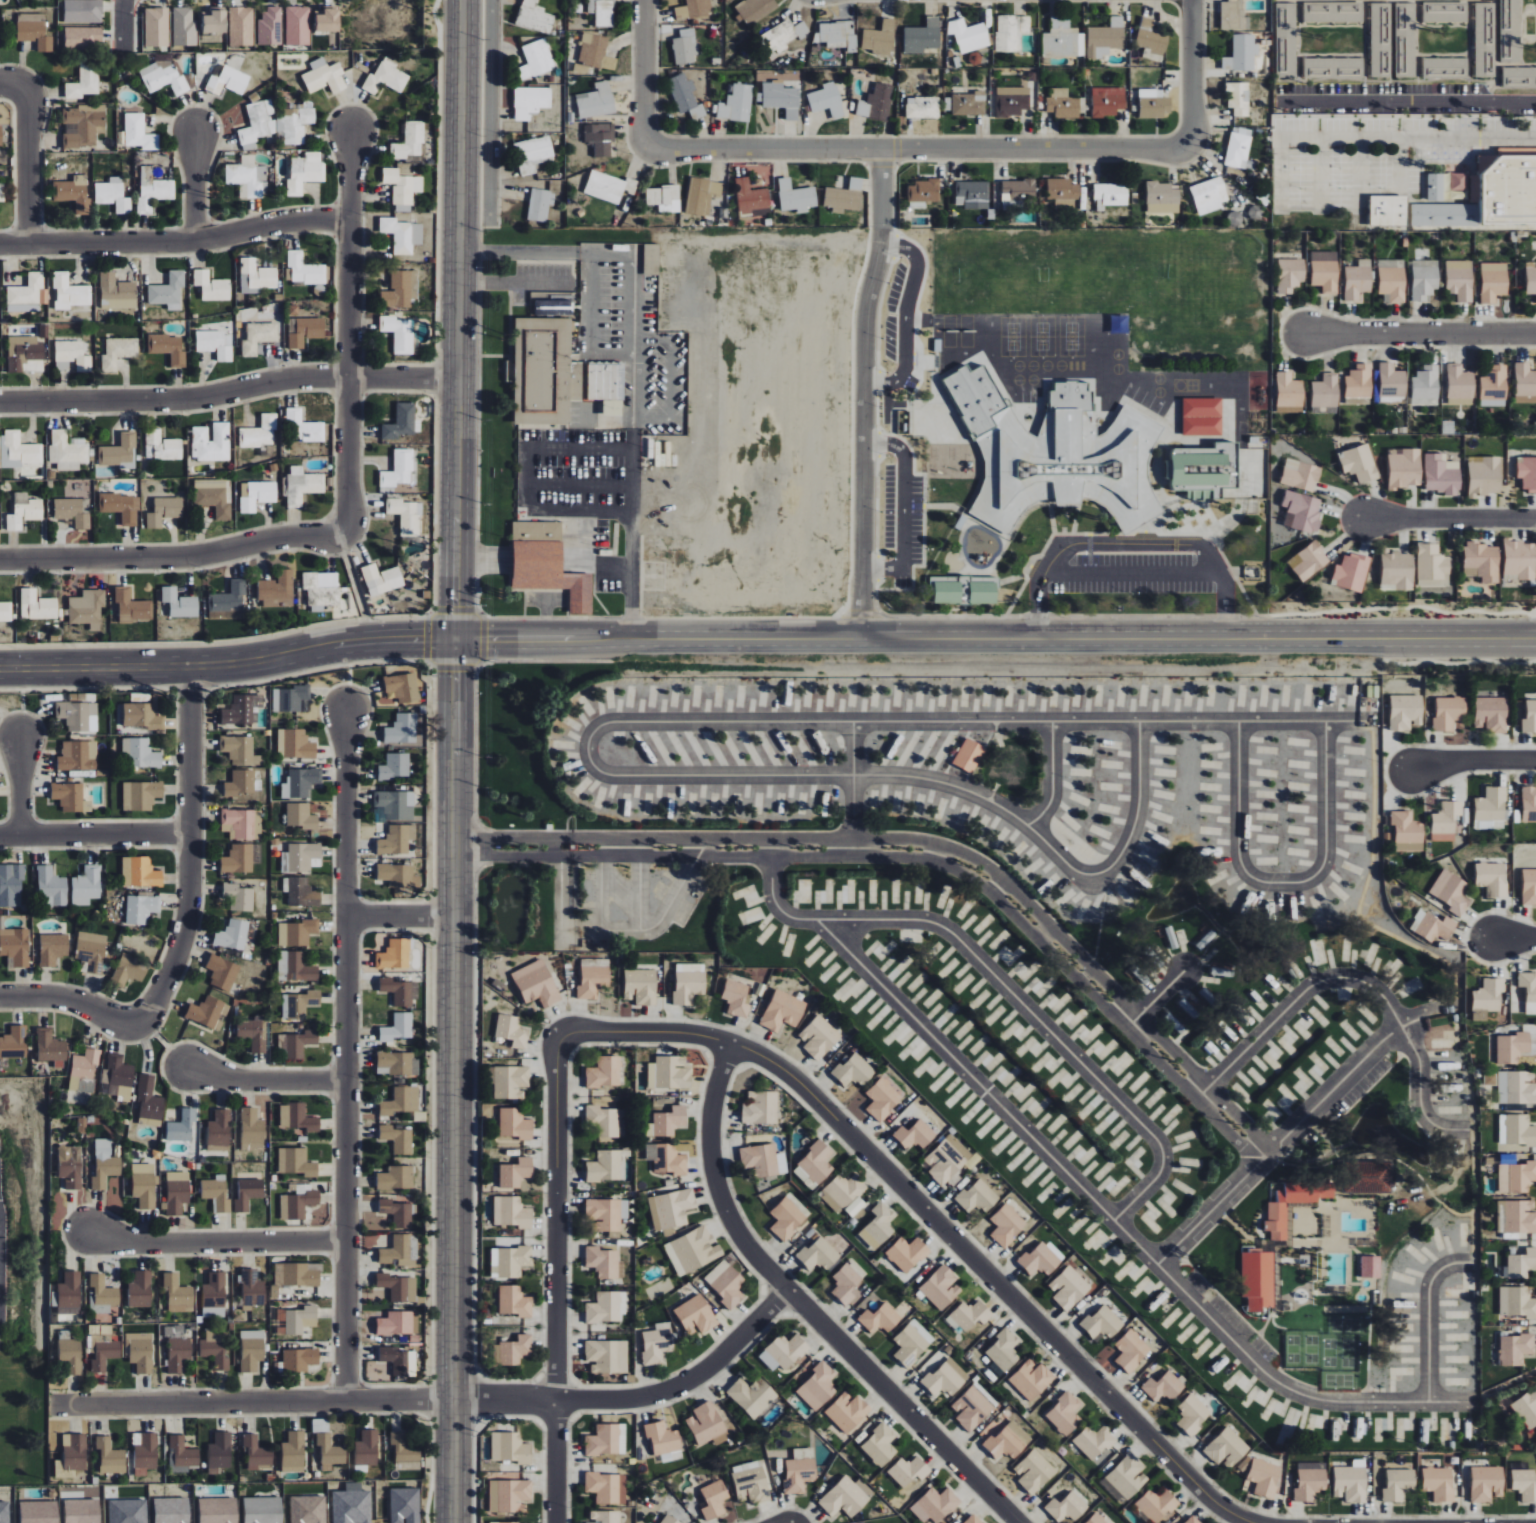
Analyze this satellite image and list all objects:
building: (694, 9)
building: (755, 9)
building: (82, 11)
building: (602, 12)
building: (1233, 15)
building: (534, 17)
building: (327, 20)
building: (214, 22)
road: (126, 24)
building: (241, 26)
building: (269, 26)
building: (297, 26)
building: (156, 27)
building: (184, 27)
building: (33, 31)
building: (1010, 32)
building: (784, 35)
building: (968, 35)
building: (922, 36)
building: (82, 38)
building: (880, 38)
building: (1105, 38)
building: (1063, 39)
building: (1151, 40)
building: (685, 47)
building: (596, 52)
building: (1241, 54)
building: (536, 59)
building: (1445, 66)
building: (1317, 67)
road: (644, 72)
road: (1199, 75)
building: (324, 76)
building: (163, 77)
building: (386, 78)
building: (84, 81)
building: (228, 81)
road: (14, 87)
building: (685, 96)
building: (781, 98)
building: (1238, 98)
building: (596, 100)
building: (827, 100)
building: (1012, 100)
building: (531, 101)
building: (1107, 101)
road: (1407, 102)
building: (736, 103)
building: (876, 103)
building: (969, 104)
building: (1062, 104)
building: (922, 107)
building: (1154, 107)
building: (258, 122)
building: (295, 124)
building: (83, 125)
building: (139, 132)
building: (0, 135)
building: (600, 137)
road: (1377, 137)
building: (410, 141)
building: (1239, 150)
road: (917, 152)
building: (532, 154)
road: (28, 166)
building: (305, 172)
building: (247, 177)
building: (1459, 182)
building: (402, 186)
building: (609, 186)
road: (193, 187)
building: (1436, 187)
building: (153, 189)
building: (1018, 189)
building: (1, 192)
building: (73, 192)
building: (1063, 192)
building: (923, 193)
building: (972, 194)
building: (113, 195)
building: (702, 195)
building: (1111, 195)
building: (1209, 195)
building: (1491, 195)
building: (796, 196)
building: (844, 196)
building: (664, 197)
building: (1162, 197)
building: (750, 198)
building: (539, 204)
building: (1388, 210)
building: (402, 234)
road: (175, 242)
building: (651, 259)
building: (304, 269)
building: (1324, 271)
building: (1289, 274)
building: (256, 276)
building: (1531, 277)
building: (1423, 279)
building: (1459, 279)
building: (1357, 280)
building: (1391, 280)
road: (513, 281)
building: (1493, 281)
building: (211, 286)
building: (400, 290)
building: (69, 292)
building: (117, 292)
building: (167, 292)
building: (25, 293)
road: (904, 314)
road: (459, 317)
road: (592, 324)
road: (1419, 325)
road: (347, 330)
building: (305, 331)
building: (399, 334)
building: (258, 337)
building: (216, 344)
building: (168, 348)
building: (24, 351)
building: (118, 352)
building: (73, 354)
road: (631, 360)
building: (542, 371)
road: (669, 378)
building: (1524, 380)
building: (1359, 381)
building: (1392, 384)
building: (1426, 385)
building: (1460, 385)
building: (607, 386)
building: (1494, 387)
building: (1290, 390)
building: (1326, 391)
road: (229, 392)
road: (863, 395)
building: (1357, 401)
building: (1290, 410)
building: (1202, 416)
building: (401, 422)
building: (303, 427)
building: (259, 434)
building: (211, 443)
building: (161, 446)
building: (18, 450)
building: (66, 451)
building: (118, 452)
building: (1061, 453)
building: (1359, 463)
building: (1405, 469)
building: (398, 470)
building: (1202, 470)
road: (536, 472)
road: (576, 473)
building: (1527, 473)
building: (1300, 475)
building: (1441, 475)
building: (1485, 477)
building: (302, 485)
building: (256, 495)
building: (213, 497)
building: (121, 507)
road: (902, 508)
building: (23, 511)
building: (73, 511)
building: (164, 511)
building: (1302, 512)
building: (405, 516)
road: (1446, 519)
road: (1130, 542)
road: (173, 554)
building: (1520, 559)
building: (1308, 561)
building: (1482, 561)
road: (605, 563)
building: (547, 564)
building: (1432, 567)
building: (1398, 570)
building: (1351, 572)
road: (1130, 575)
building: (381, 579)
road: (355, 583)
building: (276, 590)
building: (965, 590)
building: (319, 591)
building: (228, 598)
building: (179, 603)
building: (37, 606)
building: (132, 606)
building: (87, 608)
building: (5, 612)
road: (995, 640)
road: (228, 658)
building: (402, 687)
building: (81, 697)
building: (291, 699)
building: (243, 710)
building: (1406, 712)
building: (1449, 713)
building: (1491, 714)
building: (78, 716)
building: (142, 716)
building: (1530, 718)
road: (968, 722)
building: (402, 729)
building: (295, 744)
building: (240, 751)
building: (139, 753)
building: (969, 755)
building: (78, 756)
road: (1470, 758)
building: (395, 767)
road: (1052, 779)
road: (931, 781)
road: (17, 783)
building: (300, 783)
building: (240, 785)
road: (853, 785)
building: (141, 795)
building: (70, 797)
building: (1529, 804)
building: (395, 805)
building: (1491, 809)
building: (301, 816)
building: (1445, 821)
building: (242, 824)
road: (94, 831)
building: (1407, 832)
building: (396, 840)
road: (919, 848)
road: (188, 853)
building: (300, 857)
building: (239, 859)
building: (140, 873)
building: (396, 875)
building: (1492, 878)
road: (1282, 884)
building: (11, 885)
building: (86, 886)
building: (1529, 887)
building: (51, 888)
building: (1452, 891)
building: (301, 892)
building: (239, 897)
building: (142, 909)
road: (400, 916)
building: (1432, 926)
building: (297, 933)
building: (232, 935)
road: (1514, 938)
building: (15, 947)
building: (52, 949)
building: (91, 951)
building: (395, 955)
building: (295, 967)
building: (129, 970)
building: (222, 973)
building: (593, 978)
road: (1360, 981)
building: (689, 982)
building: (536, 984)
building: (641, 986)
road: (1004, 986)
building: (1529, 990)
building: (400, 991)
road: (1158, 997)
building: (738, 998)
road: (68, 999)
building: (1487, 999)
building: (301, 1004)
building: (783, 1011)
building: (205, 1012)
building: (1174, 1023)
building: (398, 1028)
building: (512, 1031)
building: (253, 1034)
building: (819, 1036)
building: (14, 1043)
building: (296, 1045)
building: (50, 1048)
building: (1513, 1048)
road: (347, 1055)
building: (397, 1063)
building: (853, 1071)
building: (84, 1072)
building: (604, 1072)
building: (670, 1072)
building: (118, 1077)
road: (264, 1077)
road: (454, 1078)
building: (510, 1080)
road: (1339, 1082)
building: (1516, 1087)
building: (882, 1099)
building: (400, 1101)
building: (149, 1102)
building: (760, 1108)
building: (297, 1117)
building: (603, 1120)
building: (667, 1121)
building: (515, 1123)
building: (182, 1125)
building: (251, 1129)
building: (219, 1131)
building: (1519, 1131)
building: (915, 1135)
building: (397, 1139)
building: (666, 1158)
building: (763, 1160)
building: (947, 1160)
building: (296, 1162)
building: (104, 1164)
building: (814, 1165)
building: (70, 1166)
building: (605, 1166)
building: (515, 1172)
building: (395, 1177)
building: (1516, 1177)
building: (143, 1184)
building: (177, 1192)
building: (215, 1193)
building: (248, 1193)
building: (844, 1193)
building: (977, 1197)
building: (298, 1202)
building: (671, 1208)
road: (1210, 1210)
building: (396, 1212)
building: (512, 1212)
building: (606, 1213)
building: (1516, 1216)
building: (1276, 1217)
building: (786, 1218)
road: (940, 1224)
road: (1117, 1224)
building: (1007, 1225)
building: (878, 1226)
road: (214, 1240)
building: (692, 1250)
building: (398, 1251)
building: (907, 1253)
building: (819, 1254)
building: (1041, 1259)
building: (513, 1261)
building: (602, 1262)
building: (1521, 1264)
building: (1370, 1267)
road: (556, 1271)
building: (297, 1274)
building: (1258, 1279)
building: (846, 1283)
building: (728, 1284)
building: (398, 1287)
building: (940, 1287)
building: (251, 1288)
building: (1069, 1288)
building: (141, 1290)
building: (69, 1293)
building: (102, 1294)
building: (178, 1294)
building: (214, 1295)
building: (514, 1301)
building: (1516, 1302)
building: (604, 1308)
road: (806, 1309)
building: (696, 1315)
building: (969, 1315)
building: (880, 1318)
building: (300, 1319)
road: (1429, 1319)
building: (395, 1323)
building: (1102, 1323)
building: (656, 1343)
building: (912, 1343)
building: (215, 1347)
building: (1515, 1349)
building: (251, 1350)
building: (512, 1350)
building: (1004, 1350)
building: (1131, 1350)
building: (102, 1351)
building: (140, 1351)
building: (783, 1351)
building: (178, 1353)
building: (70, 1355)
building: (607, 1356)
building: (299, 1359)
building: (398, 1360)
building: (946, 1378)
building: (1031, 1379)
building: (817, 1387)
building: (1163, 1387)
building: (752, 1395)
road: (443, 1399)
building: (972, 1408)
building: (1526, 1408)
building: (847, 1411)
building: (1065, 1413)
building: (1192, 1414)
building: (707, 1425)
building: (604, 1440)
building: (663, 1441)
building: (1094, 1442)
building: (879, 1445)
building: (510, 1447)
building: (1227, 1447)
building: (366, 1448)
building: (219, 1452)
building: (293, 1452)
building: (330, 1452)
building: (405, 1452)
building: (257, 1453)
building: (71, 1455)
building: (181, 1455)
building: (110, 1456)
building: (799, 1470)
building: (909, 1470)
building: (1034, 1472)
building: (1127, 1476)
building: (1265, 1477)
building: (1309, 1481)
building: (750, 1482)
building: (1351, 1482)
building: (1439, 1483)
building: (1486, 1483)
building: (1399, 1484)
building: (1525, 1484)
building: (607, 1487)
building: (509, 1495)
building: (844, 1498)
building: (714, 1500)
building: (1156, 1504)
building: (404, 1505)
building: (935, 1505)
building: (350, 1506)
building: (1067, 1507)
building: (307, 1509)
building: (171, 1510)
building: (217, 1510)
building: (262, 1510)
building: (82, 1511)
building: (128, 1511)
building: (4, 1512)
building: (38, 1512)
building: (605, 1517)
building: (670, 1519)
building: (1096, 1519)
building: (975, 1520)
building: (1192, 1520)
building: (503, 1522)

